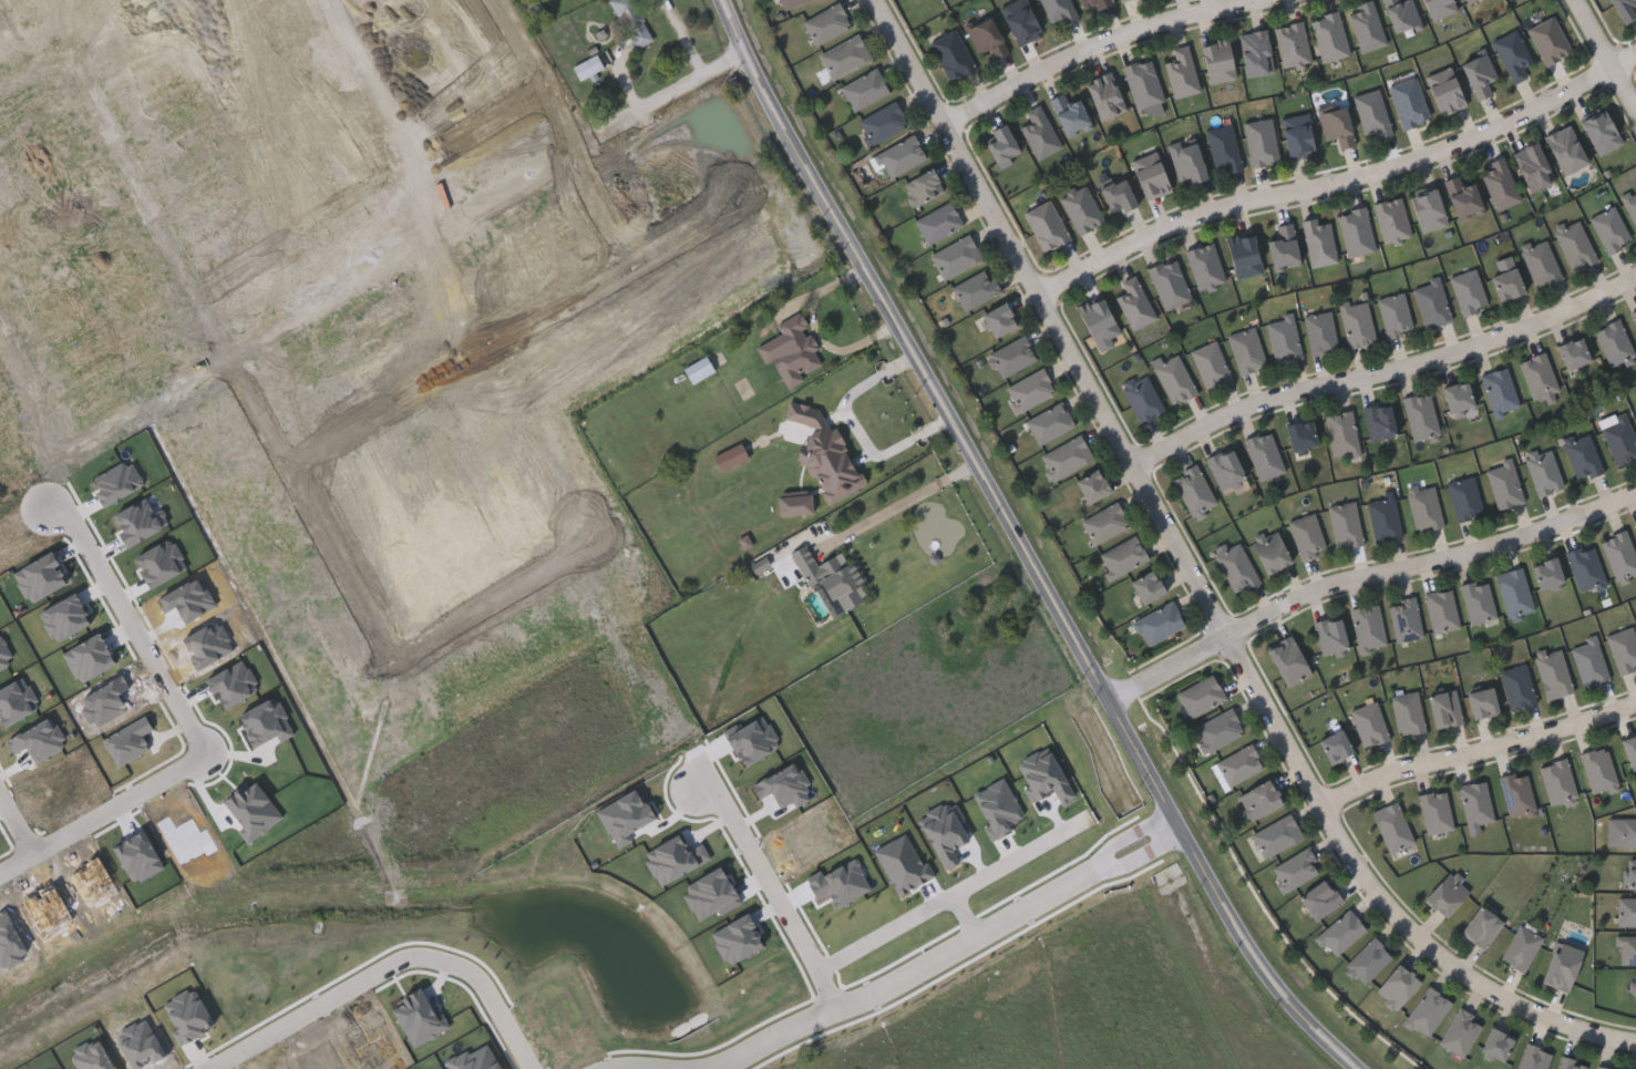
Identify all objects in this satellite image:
building: (1125, 0)
building: (1467, 1)
building: (788, 3)
building: (1092, 4)
building: (1439, 8)
building: (1624, 9)
building: (1058, 10)
building: (1400, 14)
building: (1020, 21)
building: (636, 23)
building: (826, 23)
building: (1366, 27)
building: (1329, 37)
building: (986, 38)
building: (1548, 40)
building: (1292, 44)
road: (1094, 45)
building: (1254, 53)
building: (951, 55)
building: (1512, 55)
road: (1605, 55)
building: (844, 56)
building: (1216, 61)
building: (590, 70)
building: (1181, 73)
building: (517, 75)
building: (1479, 75)
road: (331, 83)
building: (1143, 83)
building: (863, 89)
building: (1444, 91)
building: (1104, 96)
building: (1408, 103)
building: (511, 113)
building: (1371, 114)
building: (1069, 115)
building: (882, 124)
building: (1336, 126)
building: (1039, 133)
building: (1599, 133)
road: (564, 135)
building: (1297, 136)
building: (1261, 142)
building: (1001, 146)
building: (1223, 148)
building: (1565, 151)
building: (901, 156)
building: (1186, 161)
building: (704, 166)
building: (1532, 167)
building: (1150, 175)
road: (1338, 178)
building: (1499, 184)
building: (922, 188)
road: (371, 192)
building: (1117, 196)
building: (1462, 197)
building: (1630, 206)
building: (1080, 208)
building: (1427, 210)
building: (1391, 220)
building: (938, 223)
building: (1046, 226)
building: (1609, 230)
building: (1355, 233)
building: (1318, 243)
building: (579, 244)
building: (1574, 245)
building: (1283, 247)
building: (955, 256)
building: (1243, 256)
building: (640, 260)
building: (1539, 263)
building: (1205, 266)
building: (1169, 284)
building: (1506, 286)
building: (83, 288)
building: (975, 289)
building: (1468, 292)
building: (1133, 304)
building: (1431, 304)
building: (1395, 315)
building: (1634, 316)
building: (998, 320)
building: (1098, 323)
building: (1357, 323)
road: (214, 328)
road: (512, 330)
road: (819, 331)
building: (1319, 332)
building: (1283, 339)
building: (1613, 343)
building: (1245, 350)
building: (1572, 354)
building: (796, 356)
building: (1011, 357)
building: (64, 359)
building: (1210, 364)
building: (701, 372)
road: (1383, 372)
building: (1537, 377)
building: (1174, 379)
building: (1029, 390)
building: (1499, 391)
building: (1455, 397)
building: (1142, 398)
building: (1420, 415)
road: (138, 417)
building: (1378, 421)
building: (1049, 423)
building: (1341, 433)
building: (1299, 435)
building: (1618, 440)
building: (1264, 455)
building: (1582, 456)
building: (829, 459)
building: (1066, 459)
building: (732, 461)
building: (1224, 469)
building: (1543, 472)
building: (1503, 484)
building: (1091, 487)
building: (1193, 492)
building: (1463, 498)
road: (902, 503)
building: (798, 508)
building: (1423, 508)
building: (20, 512)
building: (1383, 520)
building: (1103, 524)
building: (1345, 525)
building: (1635, 527)
building: (1306, 536)
road: (1022, 547)
road: (89, 548)
building: (1269, 552)
building: (1619, 556)
building: (1122, 557)
building: (1584, 568)
building: (1236, 569)
building: (1545, 574)
road: (1364, 576)
building: (835, 580)
road: (1196, 580)
building: (1146, 588)
building: (1513, 593)
building: (1476, 602)
road: (491, 603)
building: (1441, 610)
building: (1405, 620)
building: (1157, 624)
building: (1368, 627)
building: (1329, 636)
building: (1623, 649)
building: (1287, 662)
building: (1588, 662)
building: (1552, 675)
building: (1516, 687)
building: (1200, 697)
building: (1481, 703)
building: (1443, 709)
building: (1407, 713)
building: (1368, 723)
building: (1218, 731)
building: (1334, 748)
road: (1476, 749)
building: (1629, 750)
building: (1238, 765)
building: (1597, 770)
building: (1557, 782)
building: (1516, 794)
building: (1257, 800)
building: (1475, 803)
building: (1434, 812)
road: (103, 813)
building: (1391, 828)
road: (13, 832)
building: (1628, 832)
building: (1276, 835)
building: (1294, 868)
building: (1632, 873)
road: (783, 891)
building: (1447, 893)
road: (956, 895)
building: (1319, 898)
building: (1626, 911)
road: (976, 915)
building: (1480, 926)
building: (1340, 932)
building: (1521, 947)
building: (1627, 948)
road: (955, 957)
building: (1367, 960)
building: (1561, 966)
building: (1396, 986)
building: (1634, 989)
road: (340, 998)
building: (1427, 1011)
road: (503, 1019)
building: (1460, 1031)
building: (1495, 1044)
building: (1533, 1058)
building: (1568, 1063)
building: (1603, 1067)

